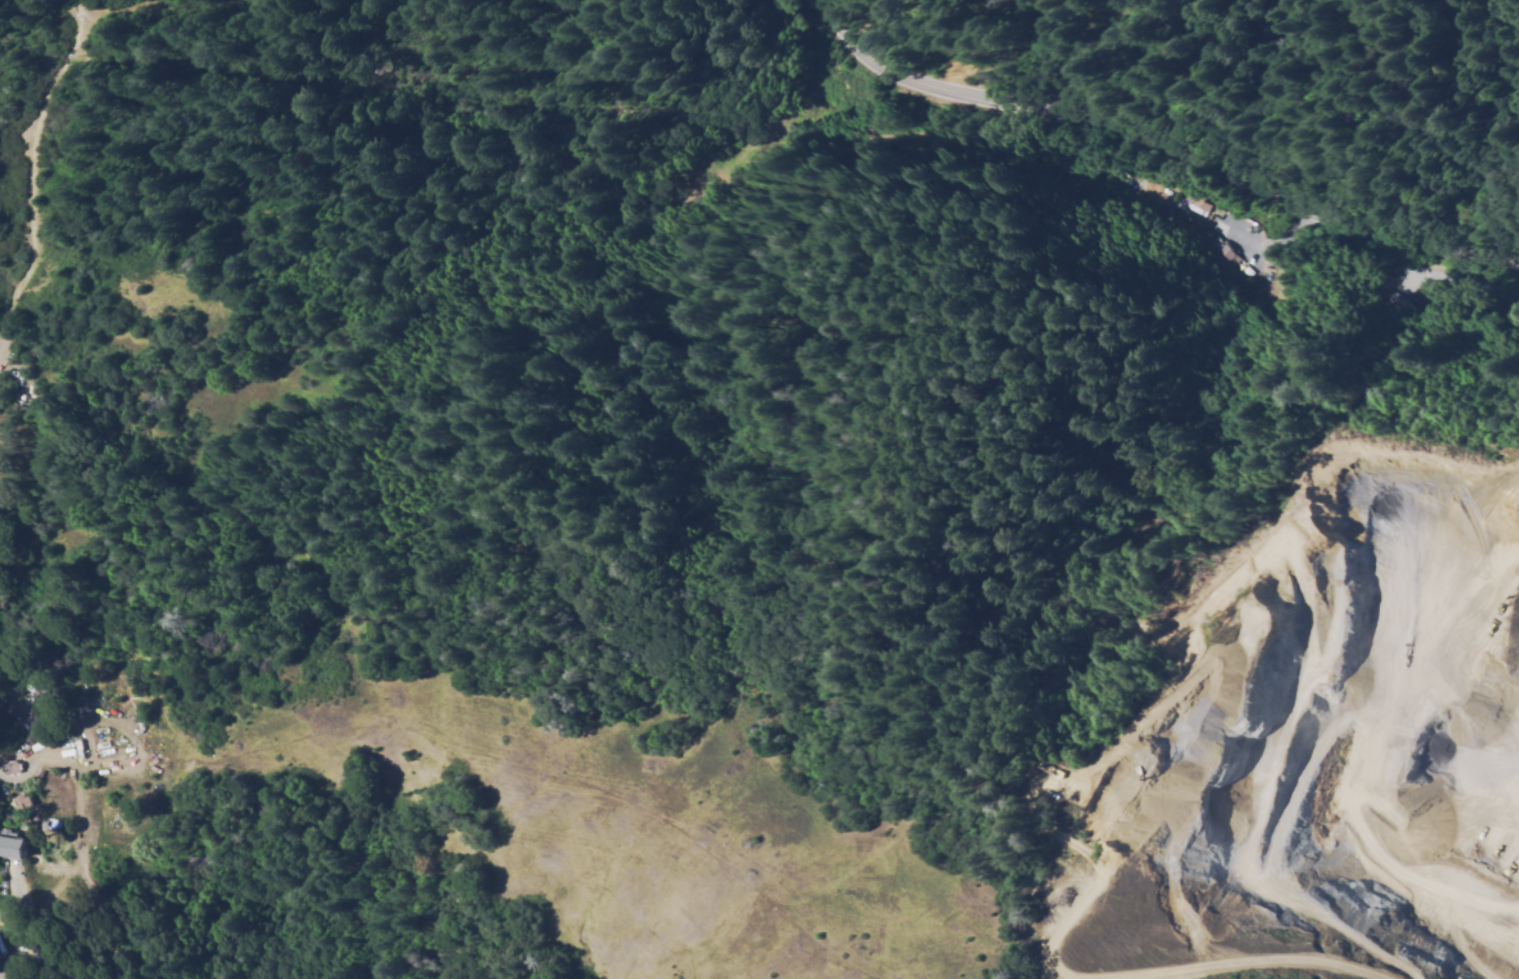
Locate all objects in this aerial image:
road: (843, 16)
road: (1150, 152)
building: (1168, 186)
building: (1192, 203)
building: (1179, 220)
building: (1216, 250)
building: (1406, 266)
building: (1408, 297)
road: (2, 369)
building: (68, 696)
building: (23, 702)
building: (61, 750)
building: (7, 766)
building: (4, 790)
building: (17, 805)
building: (11, 841)

